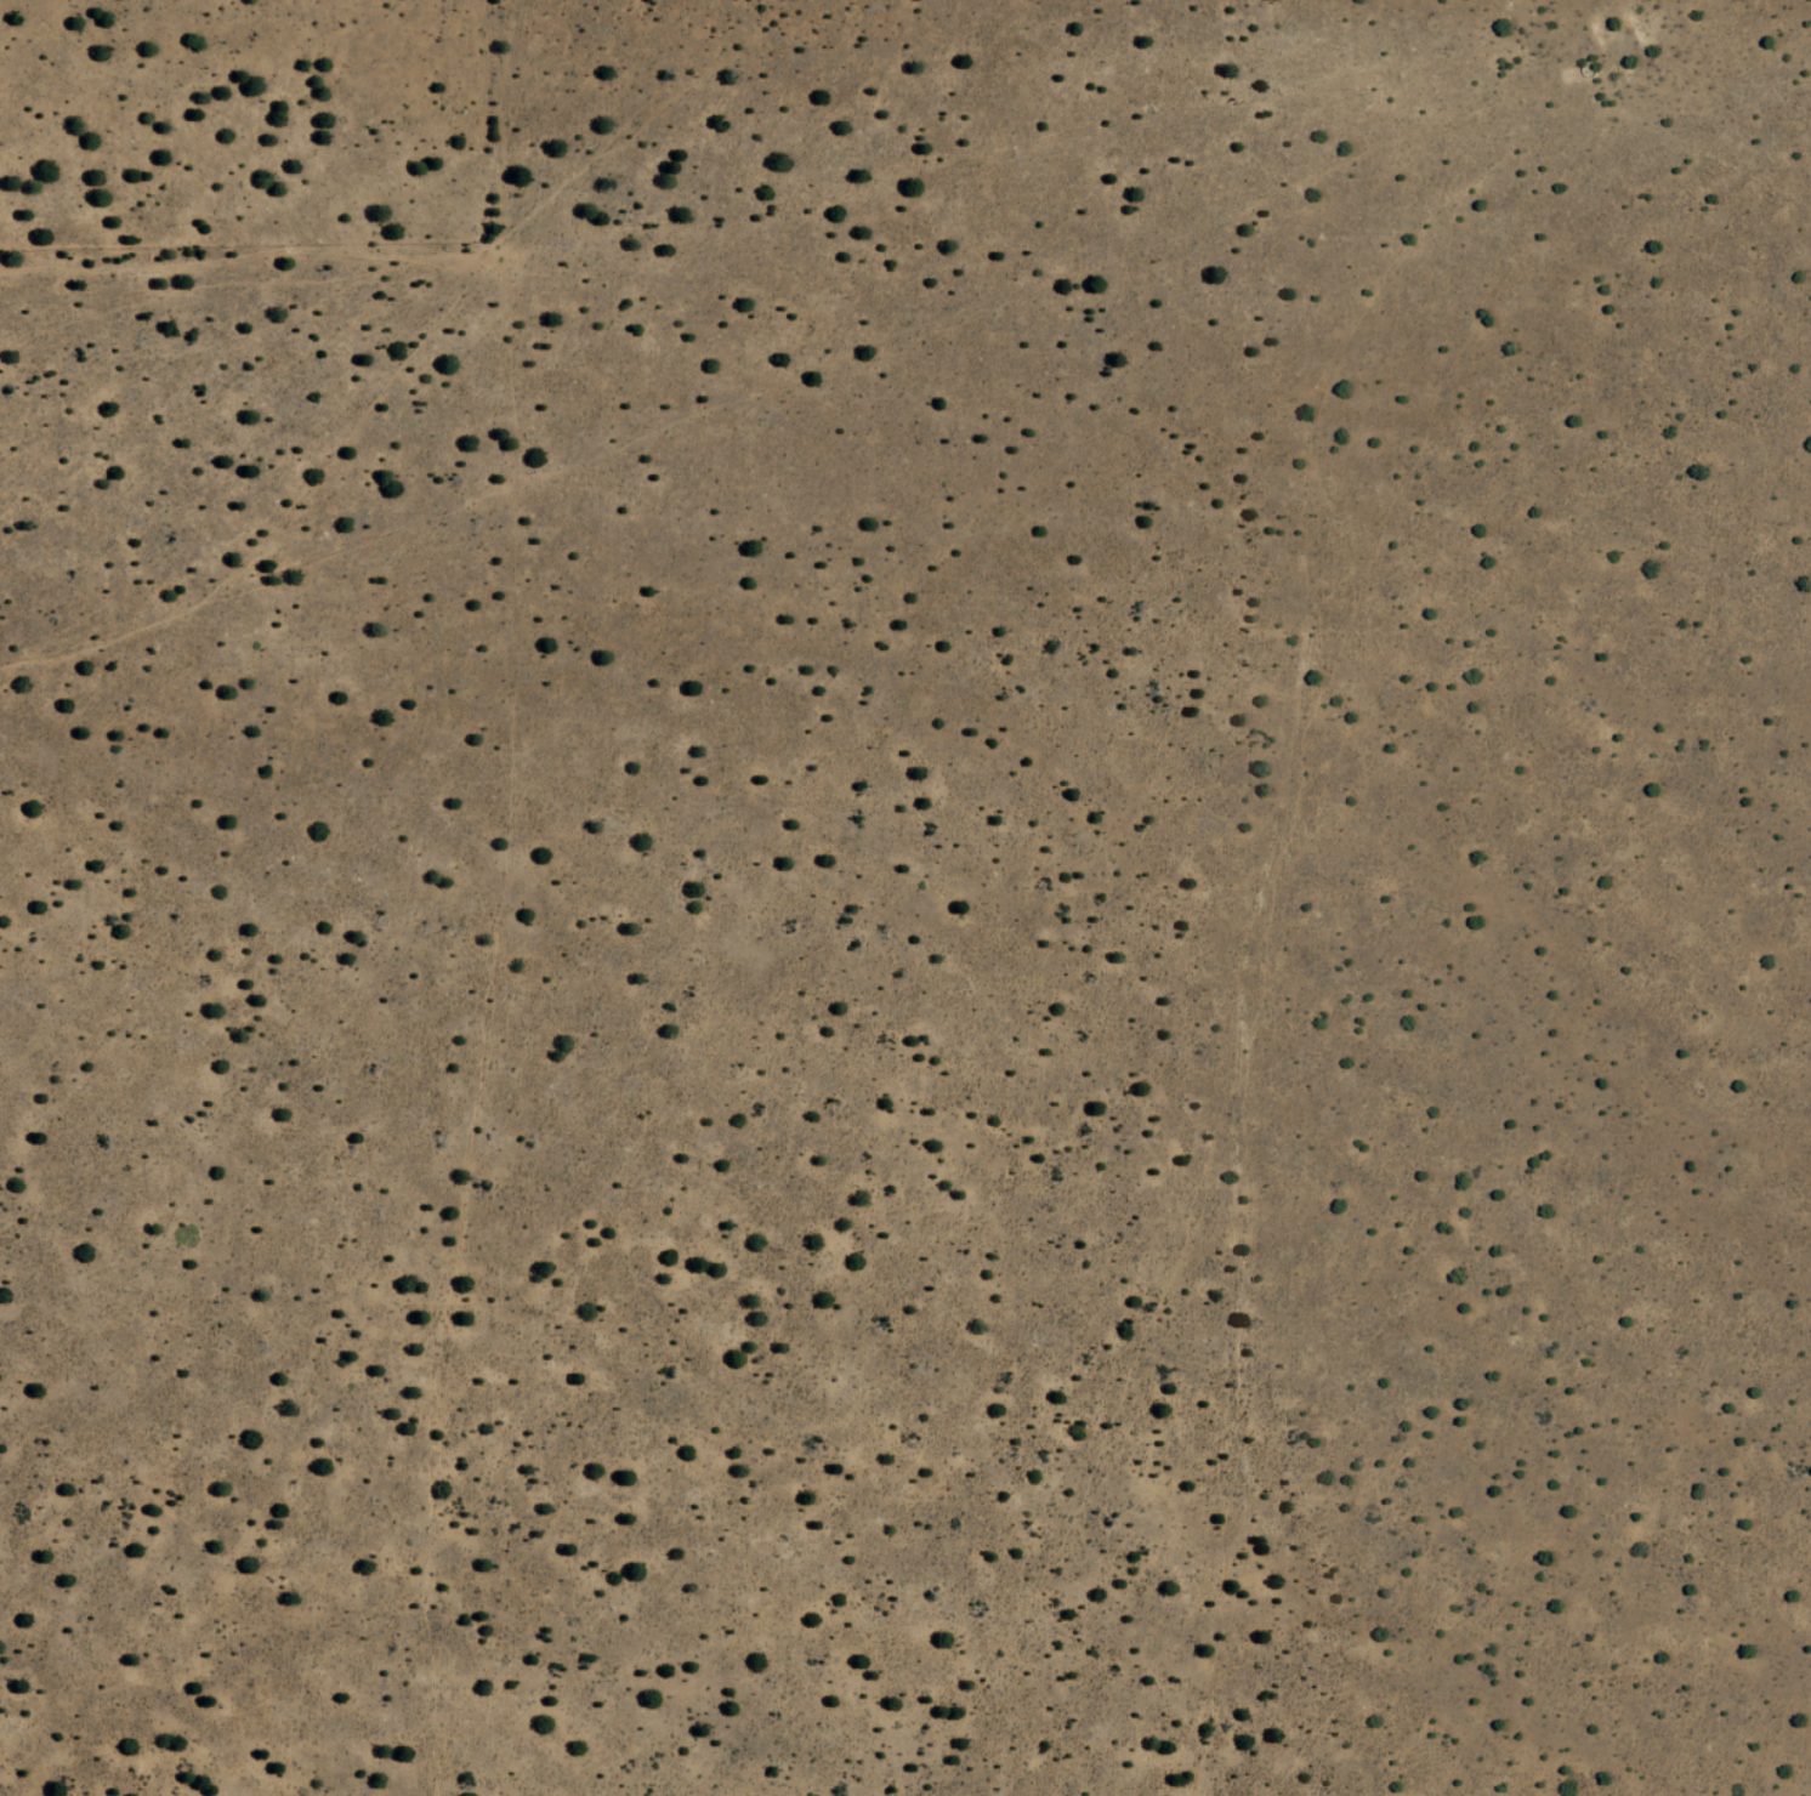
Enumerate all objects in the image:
road: (1232, 990)

